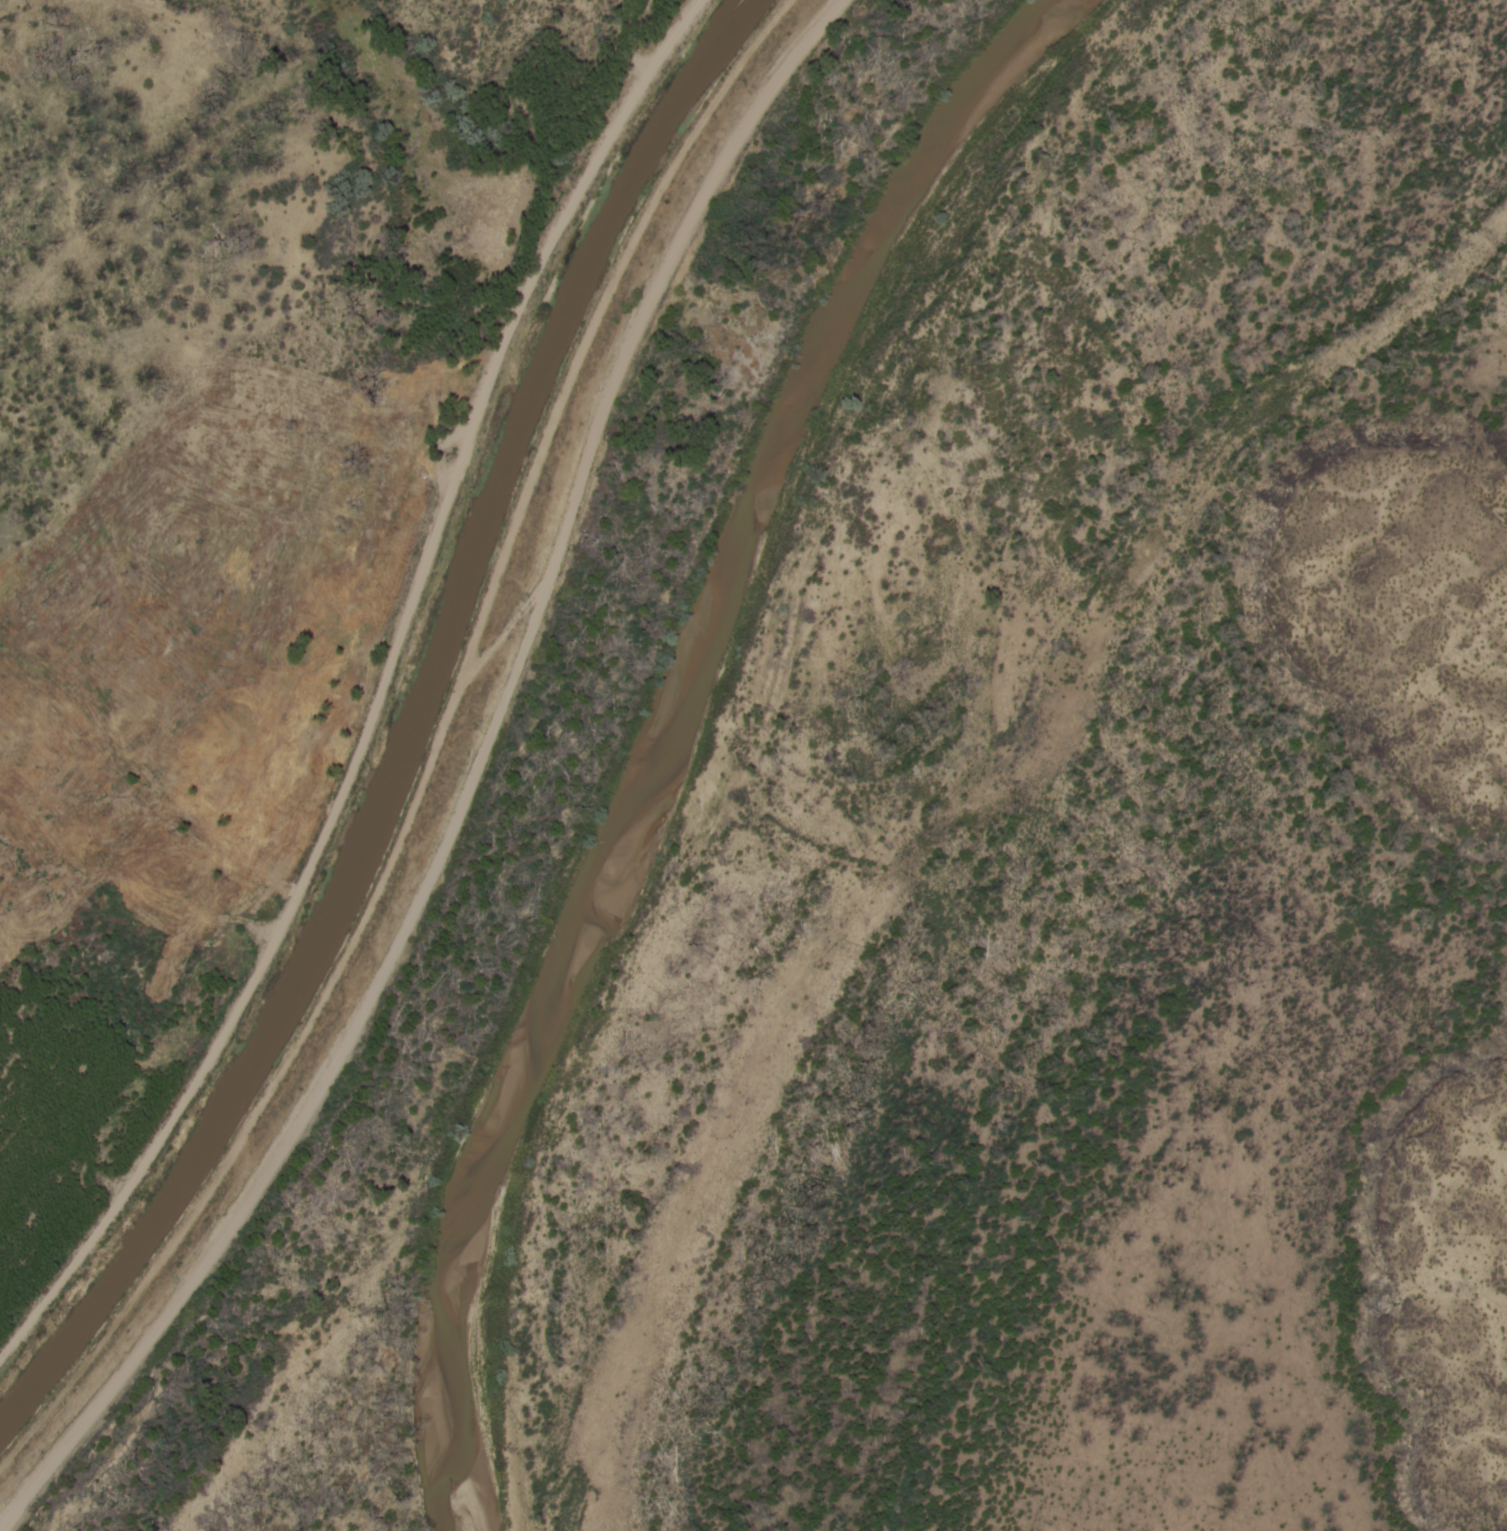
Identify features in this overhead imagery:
road: (377, 690)
river: (658, 732)
road: (469, 786)

